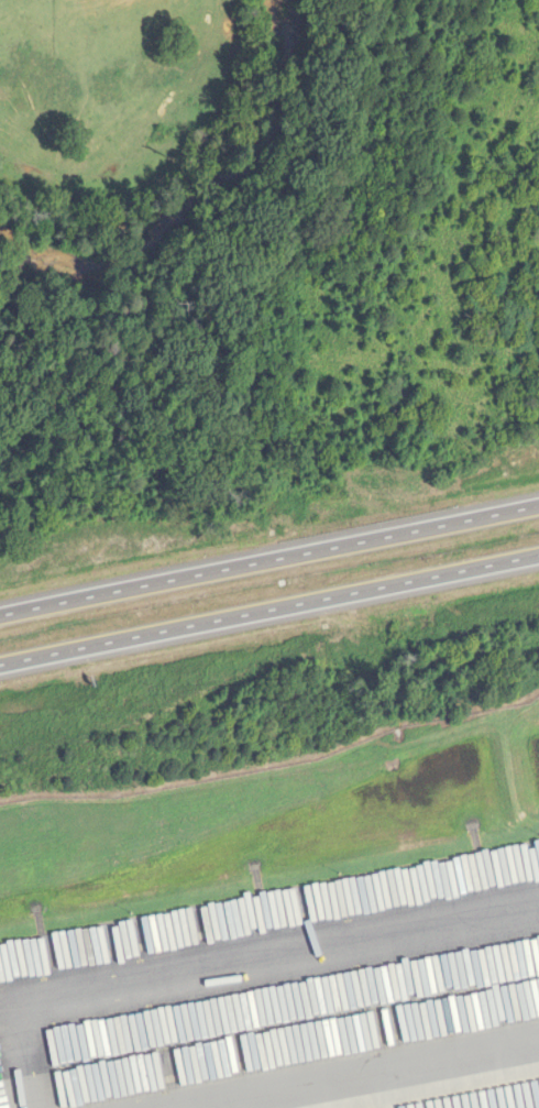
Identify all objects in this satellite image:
road: (268, 566)
road: (268, 606)
road: (234, 968)
road: (354, 1073)

